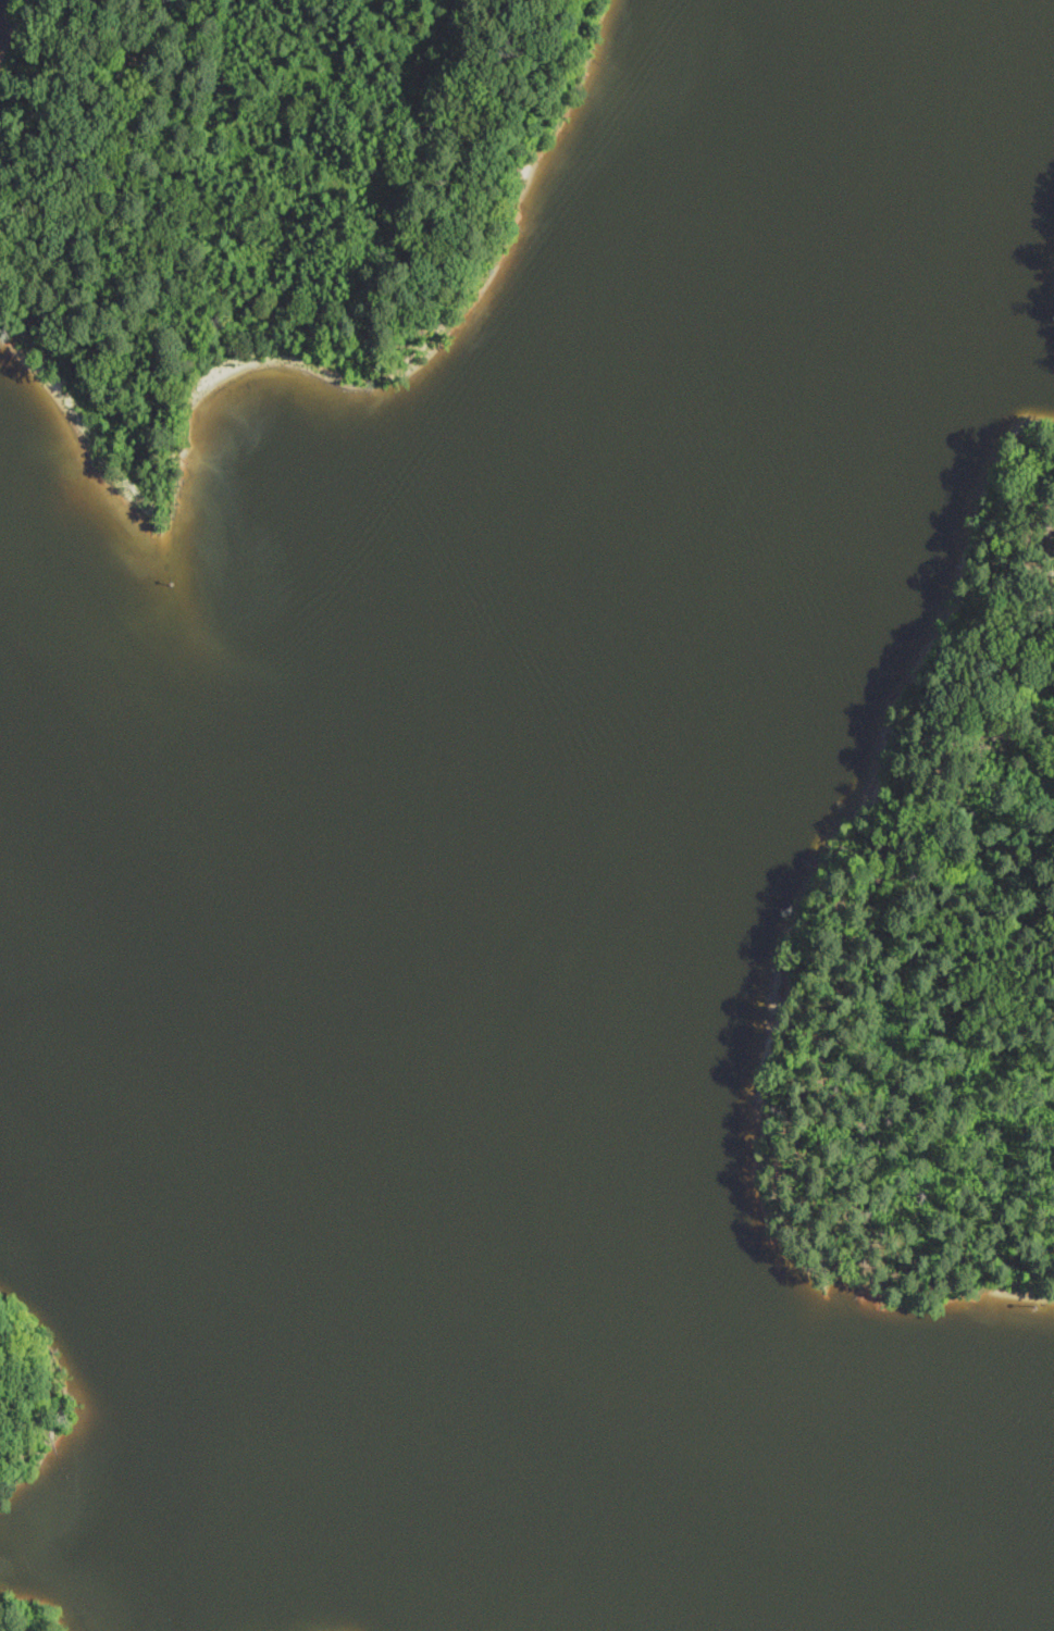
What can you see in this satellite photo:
river: (469, 632)
park: (32, 1396)
river: (554, 1443)
river: (861, 1541)
park: (29, 1613)

